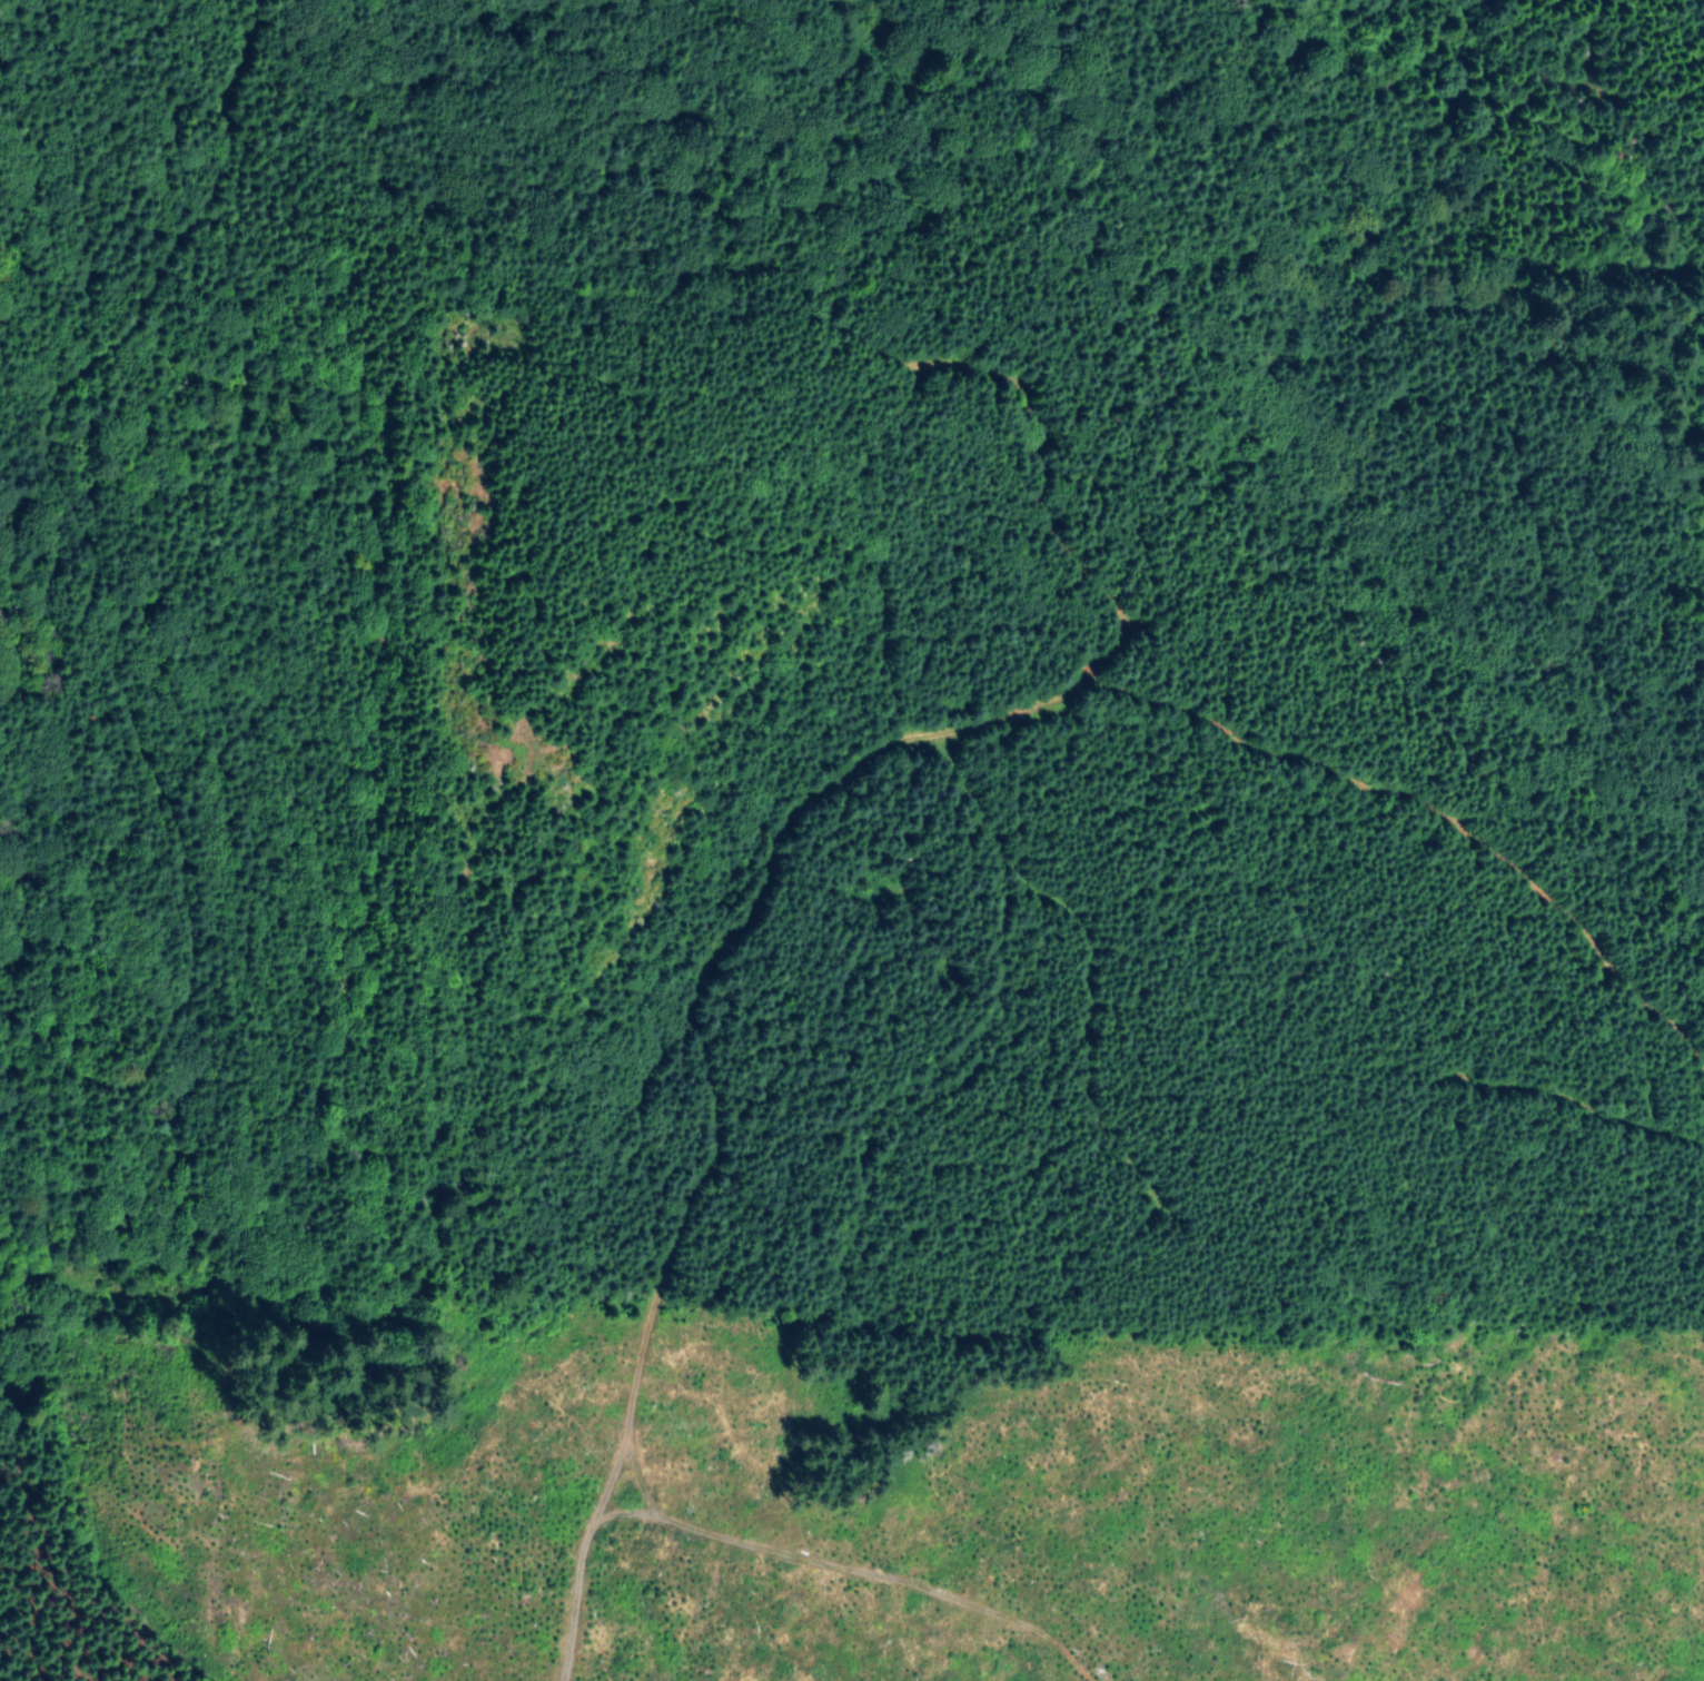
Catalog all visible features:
road: (893, 1568)

